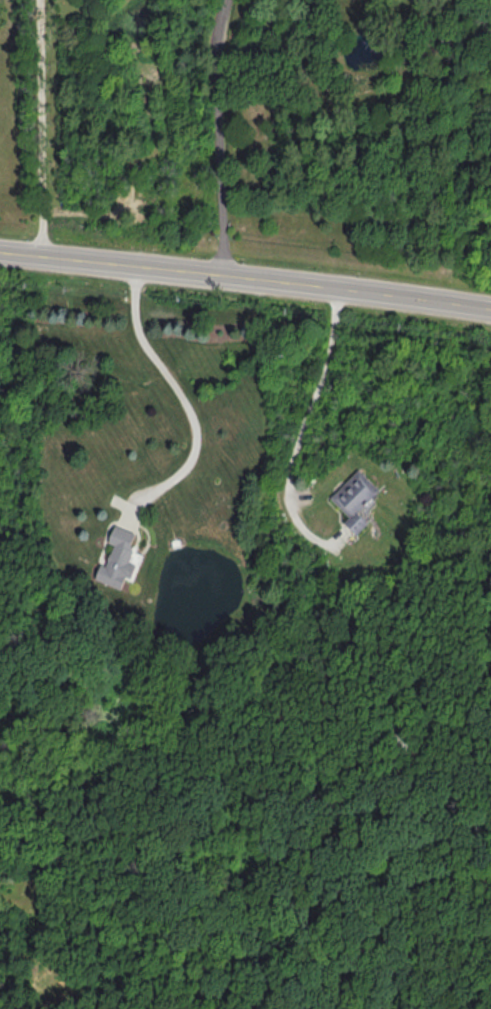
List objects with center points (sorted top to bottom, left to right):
road: (42, 127)
road: (225, 136)
road: (116, 261)
road: (362, 286)
road: (317, 393)
road: (184, 399)
building: (356, 498)
building: (120, 560)
building: (403, 746)

